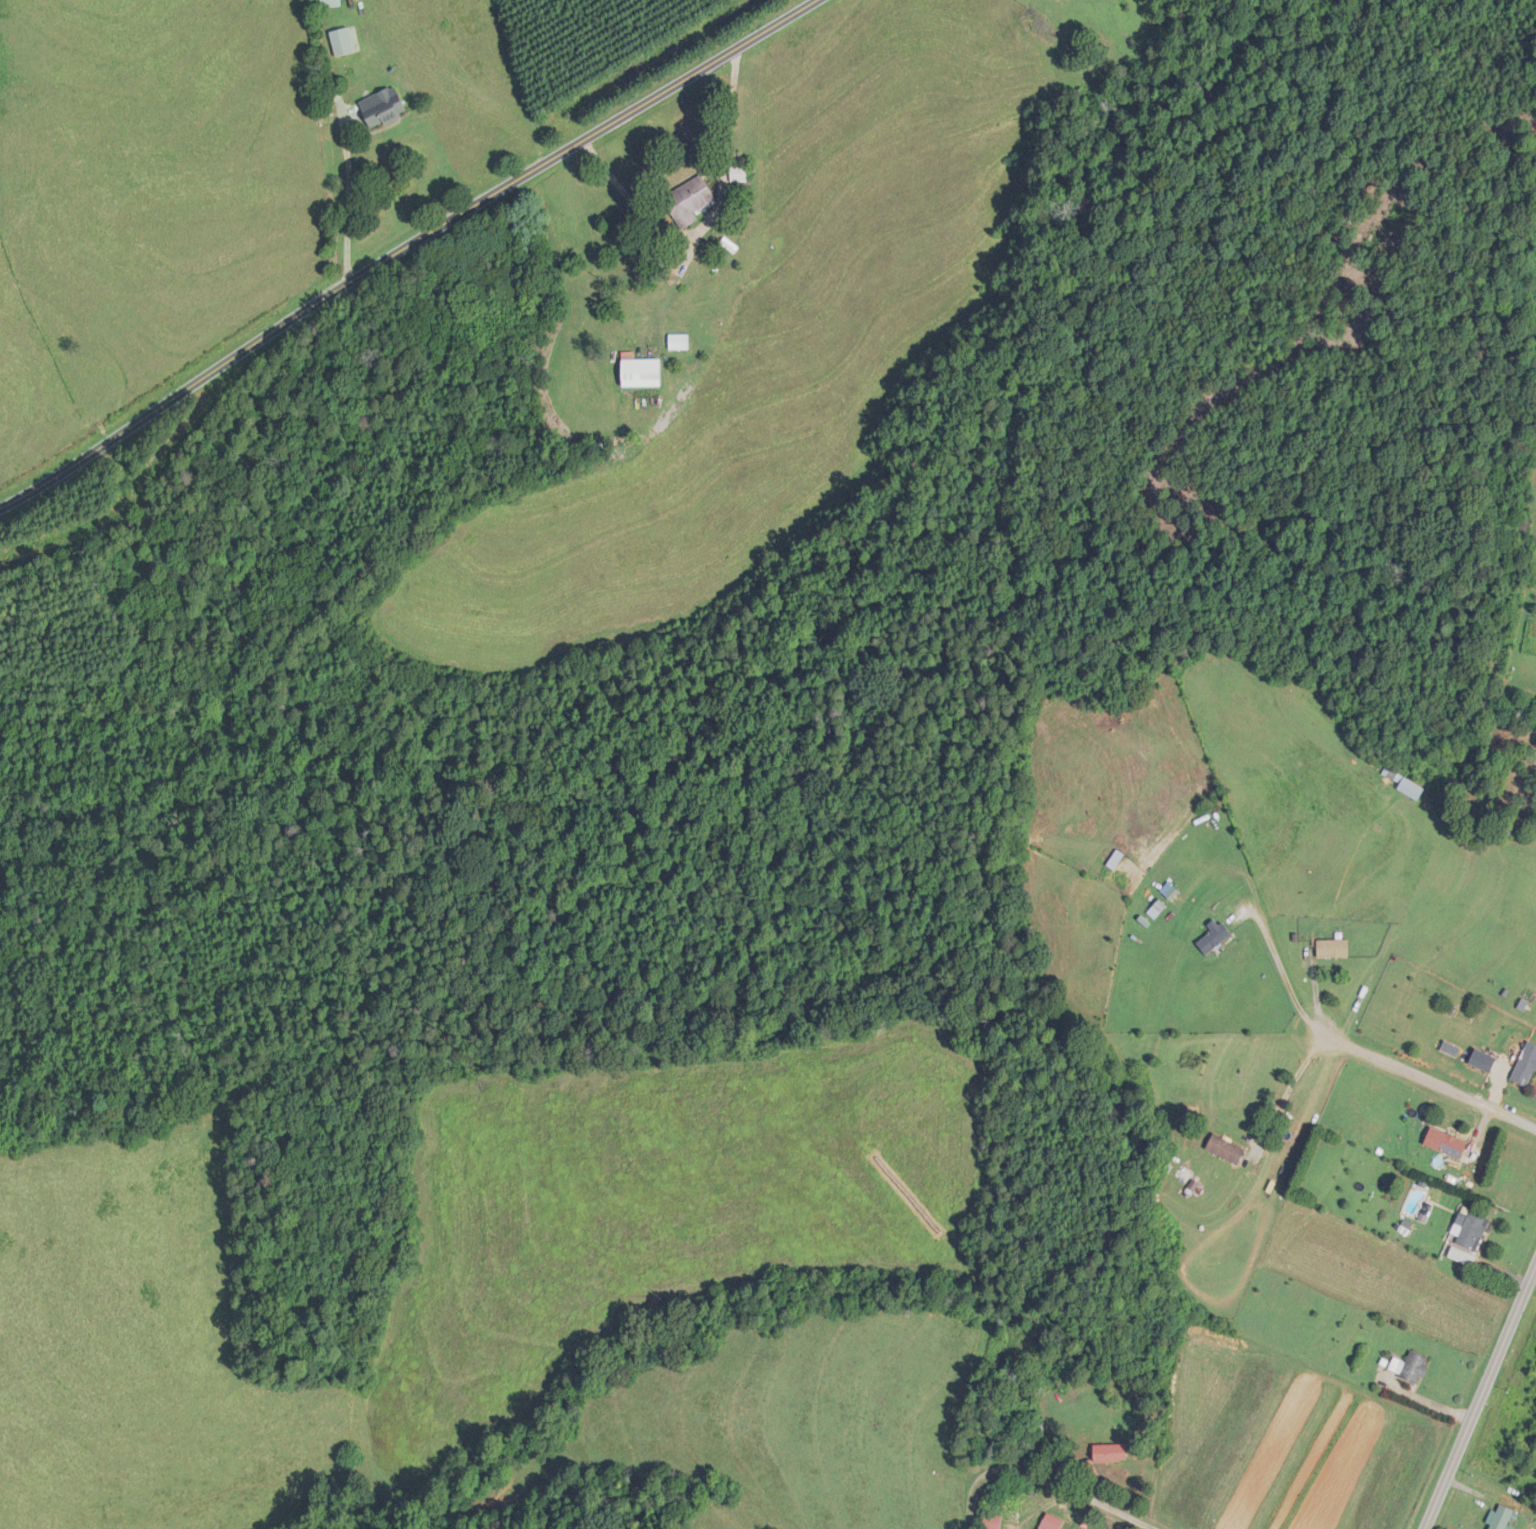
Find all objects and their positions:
building: (341, 42)
building: (383, 108)
building: (738, 174)
building: (688, 201)
road: (349, 206)
road: (396, 251)
building: (641, 372)
building: (1390, 774)
building: (1410, 788)
building: (1115, 859)
building: (1212, 938)
building: (1332, 948)
road: (1279, 962)
building: (1482, 1061)
building: (1526, 1066)
road: (1424, 1084)
road: (1288, 1090)
building: (1444, 1142)
building: (1225, 1149)
building: (1469, 1229)
building: (1410, 1367)
road: (1478, 1393)
building: (1109, 1454)
road: (1044, 1475)
building: (990, 1522)
building: (1050, 1522)

